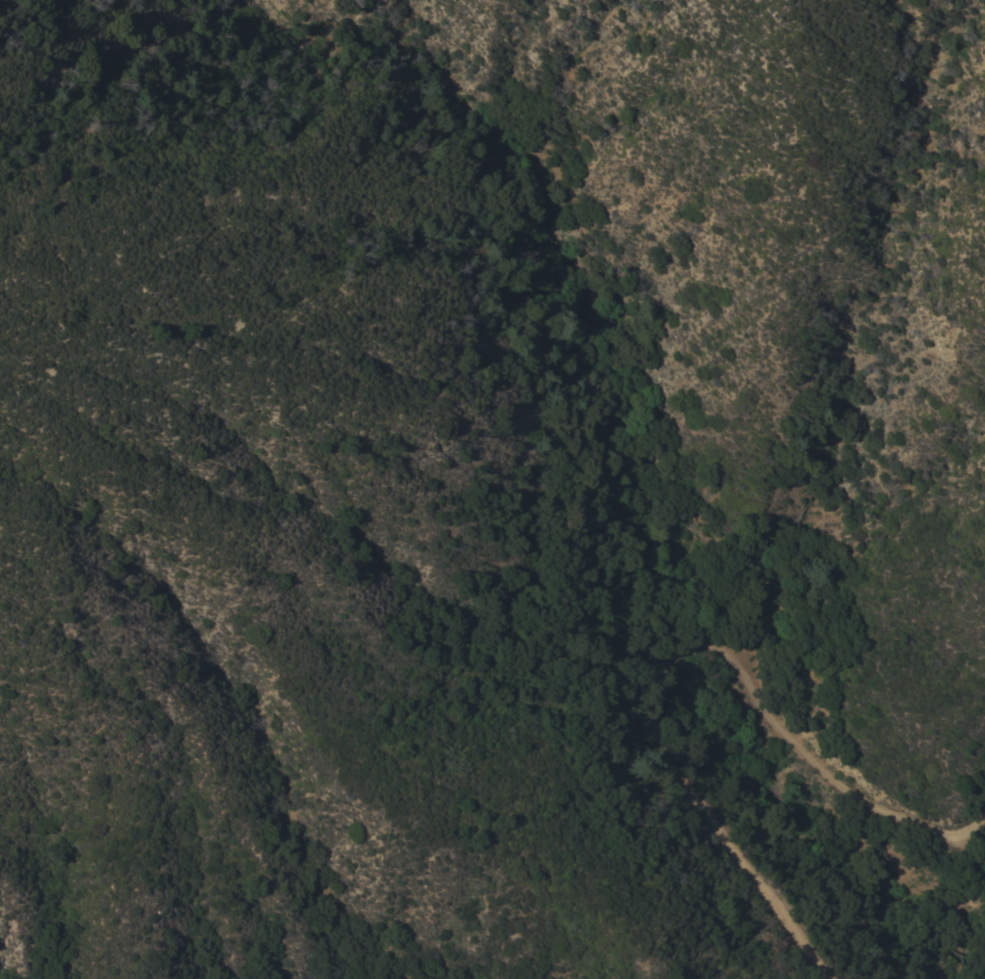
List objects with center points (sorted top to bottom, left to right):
road: (683, 659)

